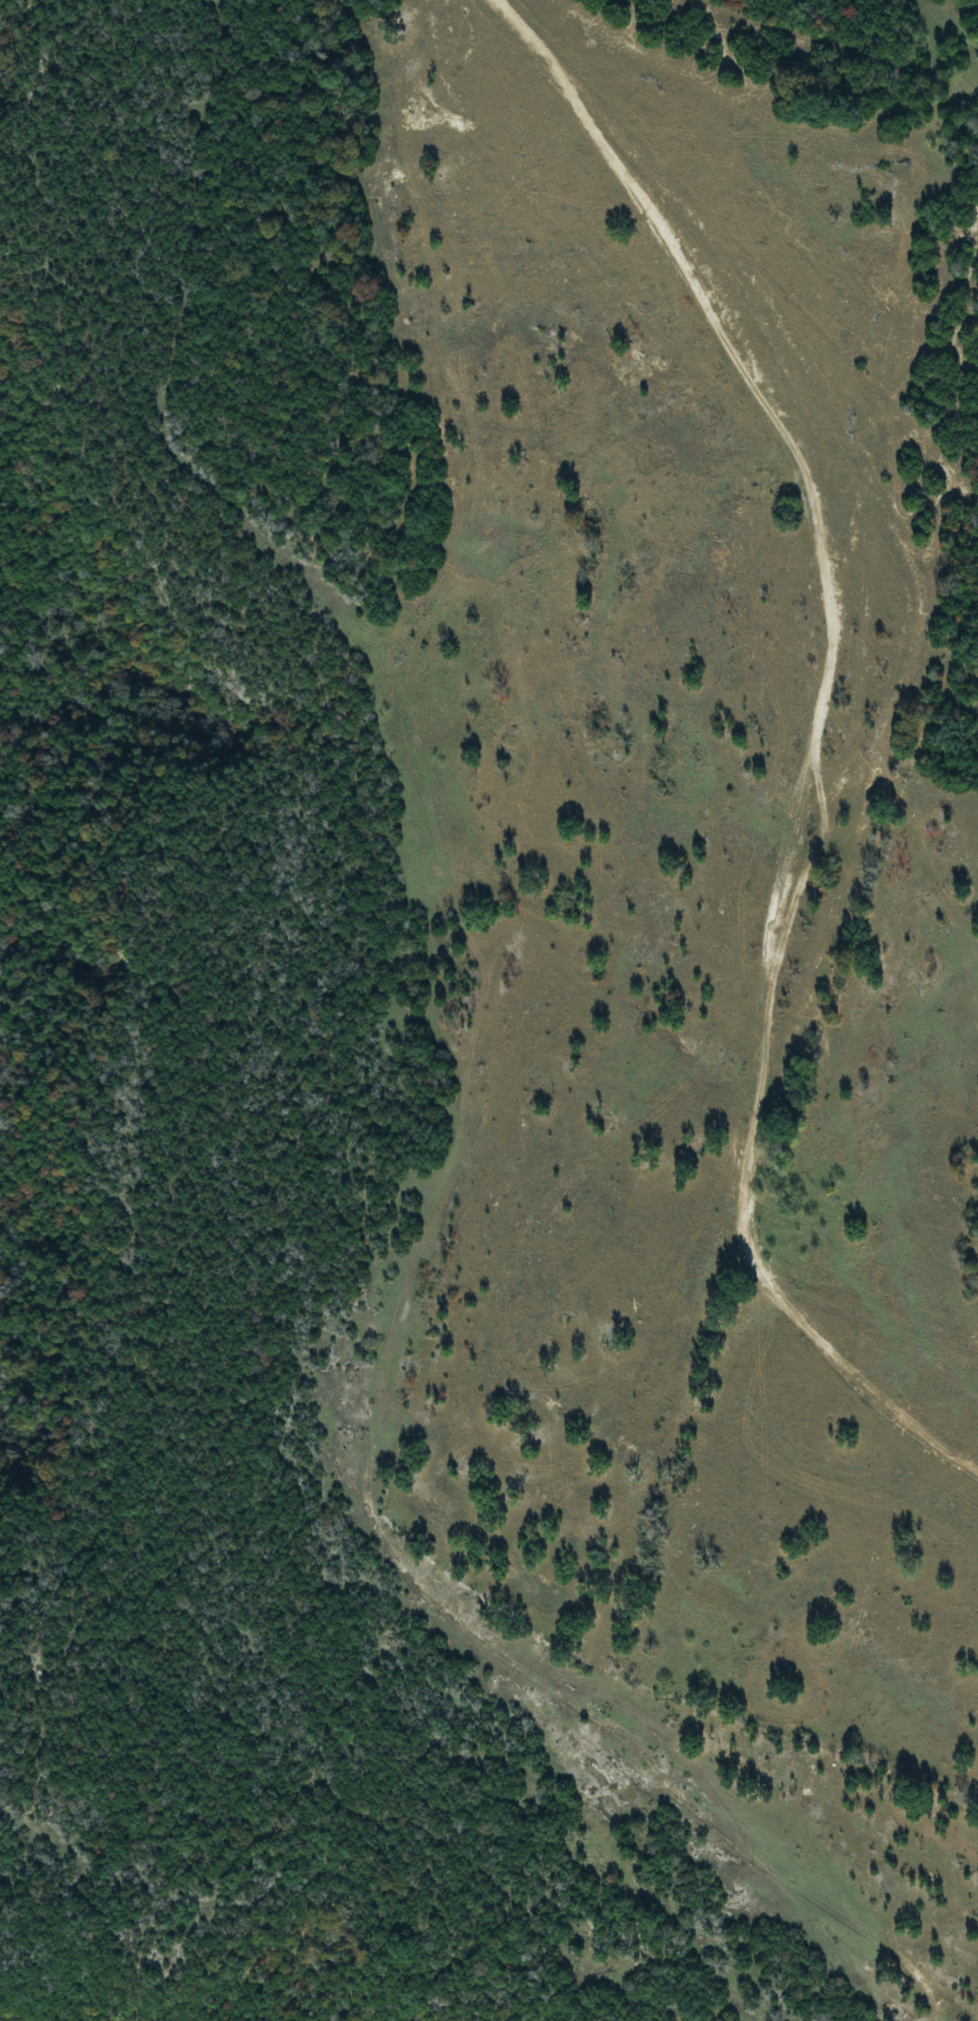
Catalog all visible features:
road: (822, 741)

